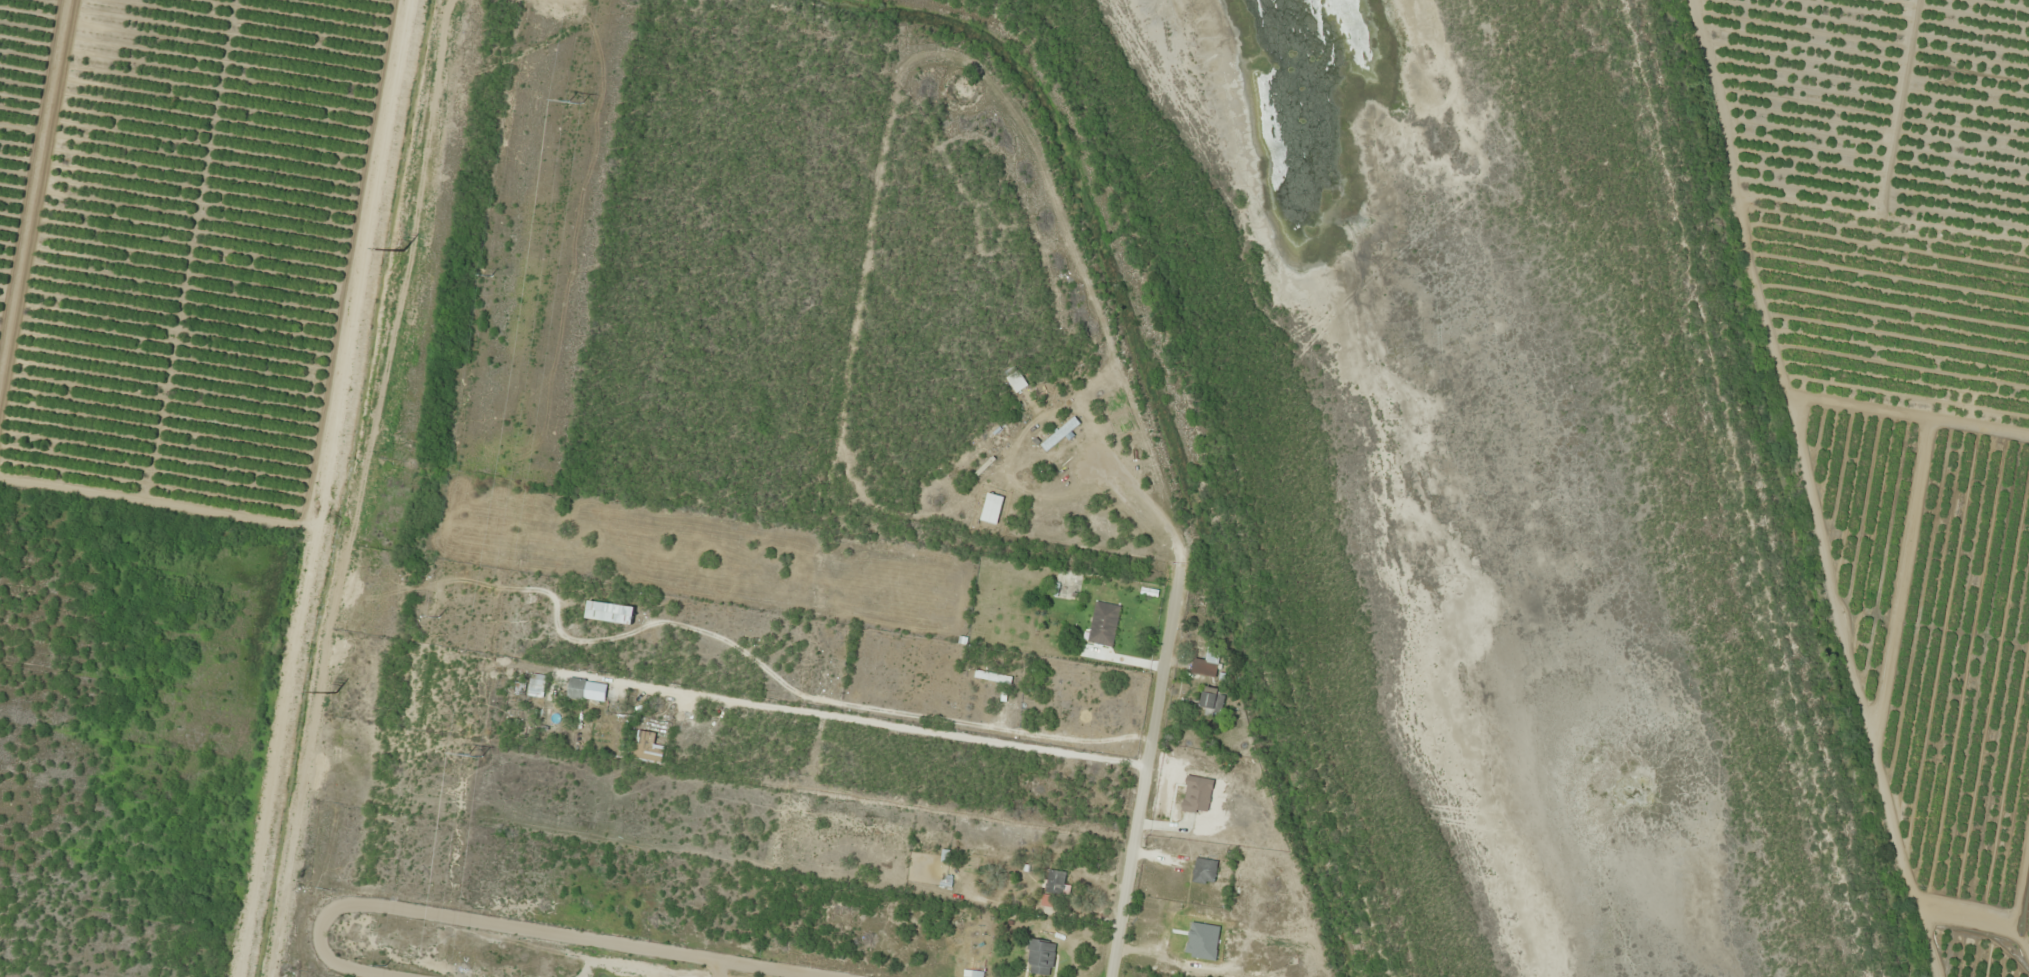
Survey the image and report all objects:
power tower: (575, 100)
power tower: (405, 252)
building: (1016, 381)
building: (1060, 433)
building: (1028, 478)
road: (337, 504)
building: (991, 508)
building: (609, 612)
building: (1103, 623)
building: (1207, 663)
building: (992, 676)
building: (536, 687)
building: (586, 690)
power tower: (336, 693)
building: (1212, 700)
power tower: (473, 754)
building: (1197, 794)
road: (1140, 798)
building: (1204, 871)
building: (1055, 881)
building: (1201, 921)
building: (1040, 957)
building: (977, 973)

